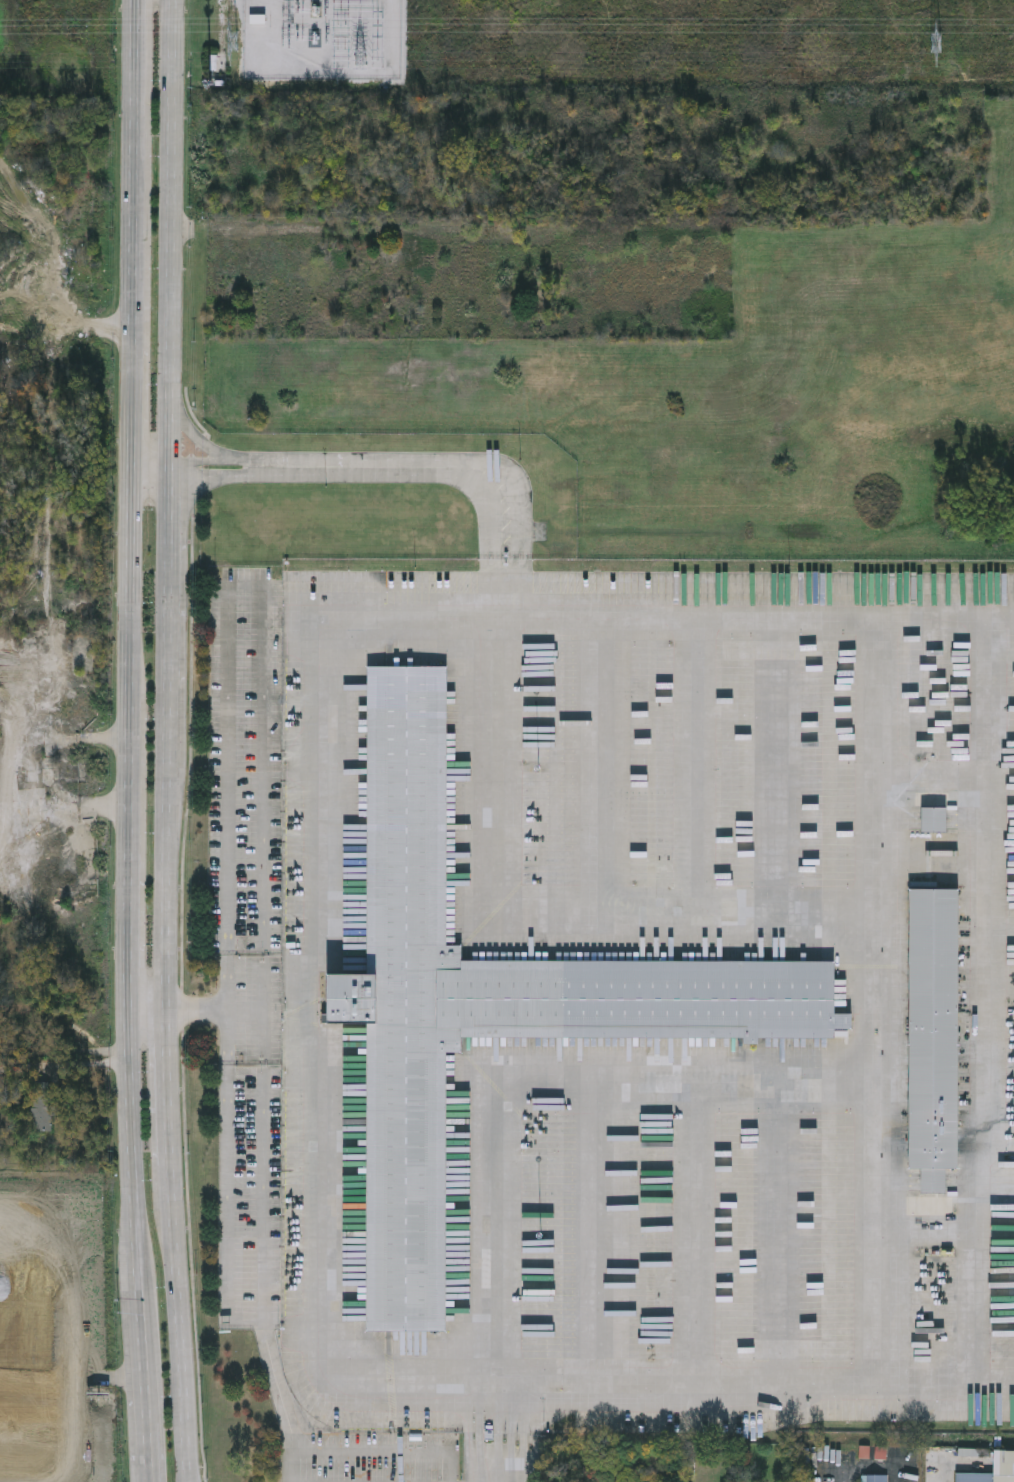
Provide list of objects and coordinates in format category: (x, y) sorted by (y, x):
building: (258, 21)
power substation: (321, 39)
power tower: (943, 41)
power tower: (232, 42)
road: (168, 233)
road: (207, 445)
road: (202, 459)
road: (151, 463)
road: (454, 469)
road: (202, 477)
road: (169, 597)
road: (666, 615)
road: (129, 693)
road: (875, 761)
road: (777, 762)
road: (698, 763)
road: (608, 765)
road: (488, 766)
road: (944, 770)
road: (228, 780)
road: (266, 787)
building: (932, 821)
road: (682, 912)
road: (265, 967)
road: (321, 996)
building: (487, 997)
road: (220, 1011)
building: (930, 1034)
road: (985, 1076)
road: (684, 1083)
road: (167, 1105)
building: (43, 1109)
road: (877, 1146)
road: (781, 1233)
road: (689, 1235)
road: (590, 1238)
road: (490, 1241)
road: (228, 1308)
road: (667, 1388)
road: (146, 1434)
road: (505, 1436)
road: (321, 1452)
road: (294, 1467)
building: (992, 1469)
road: (188, 1478)
building: (873, 1478)

